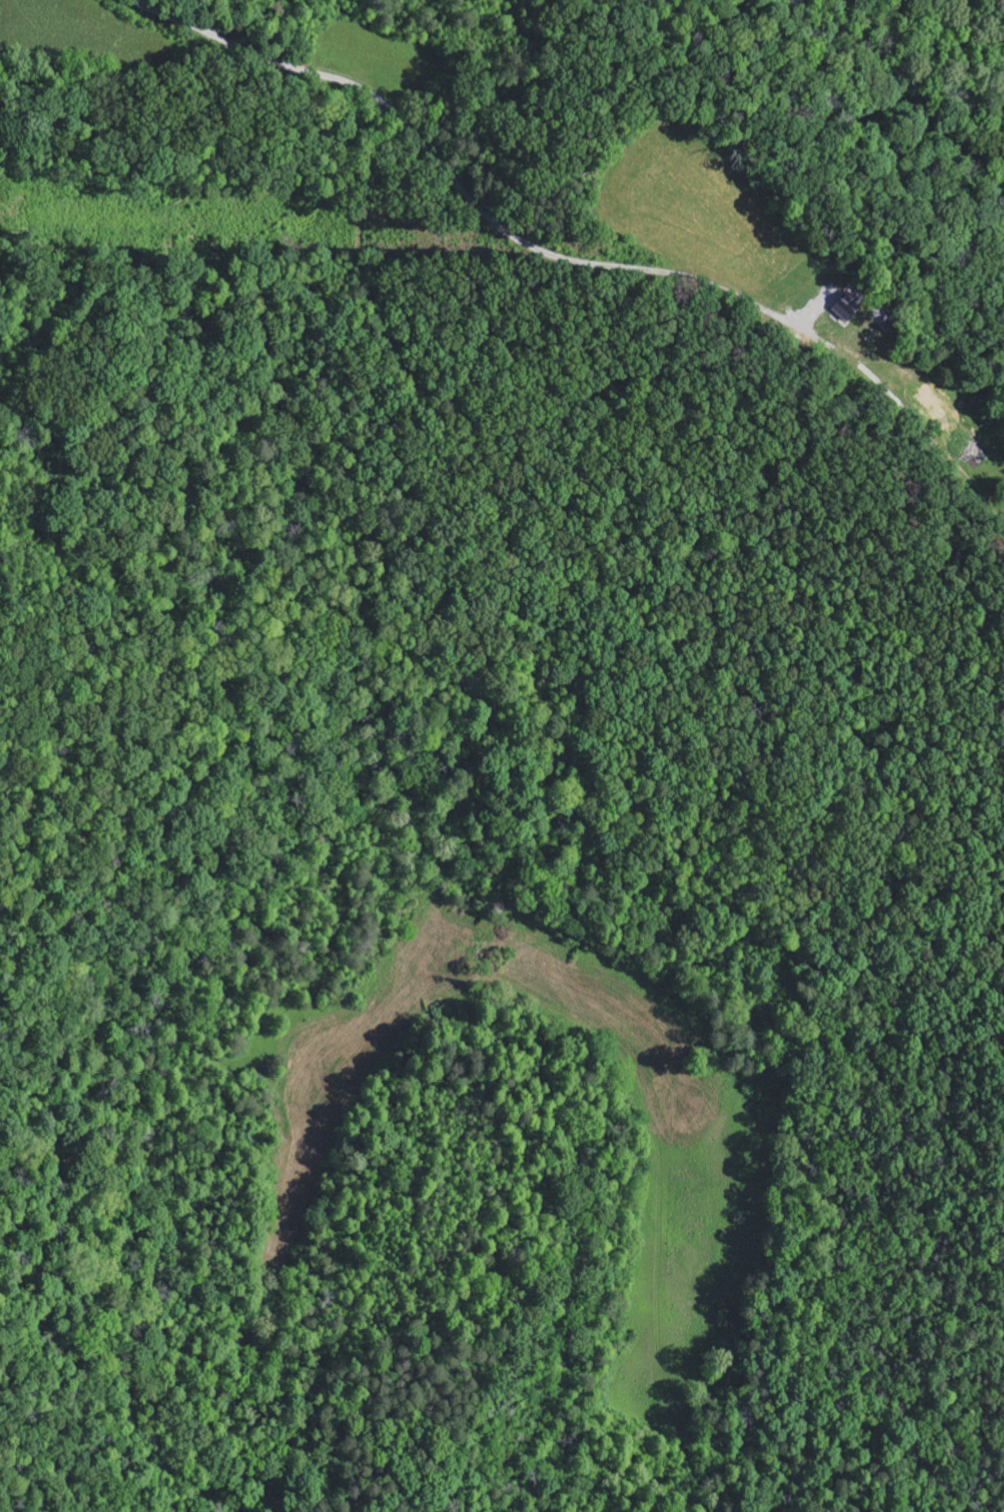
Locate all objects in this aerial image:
road: (525, 183)
building: (850, 308)

